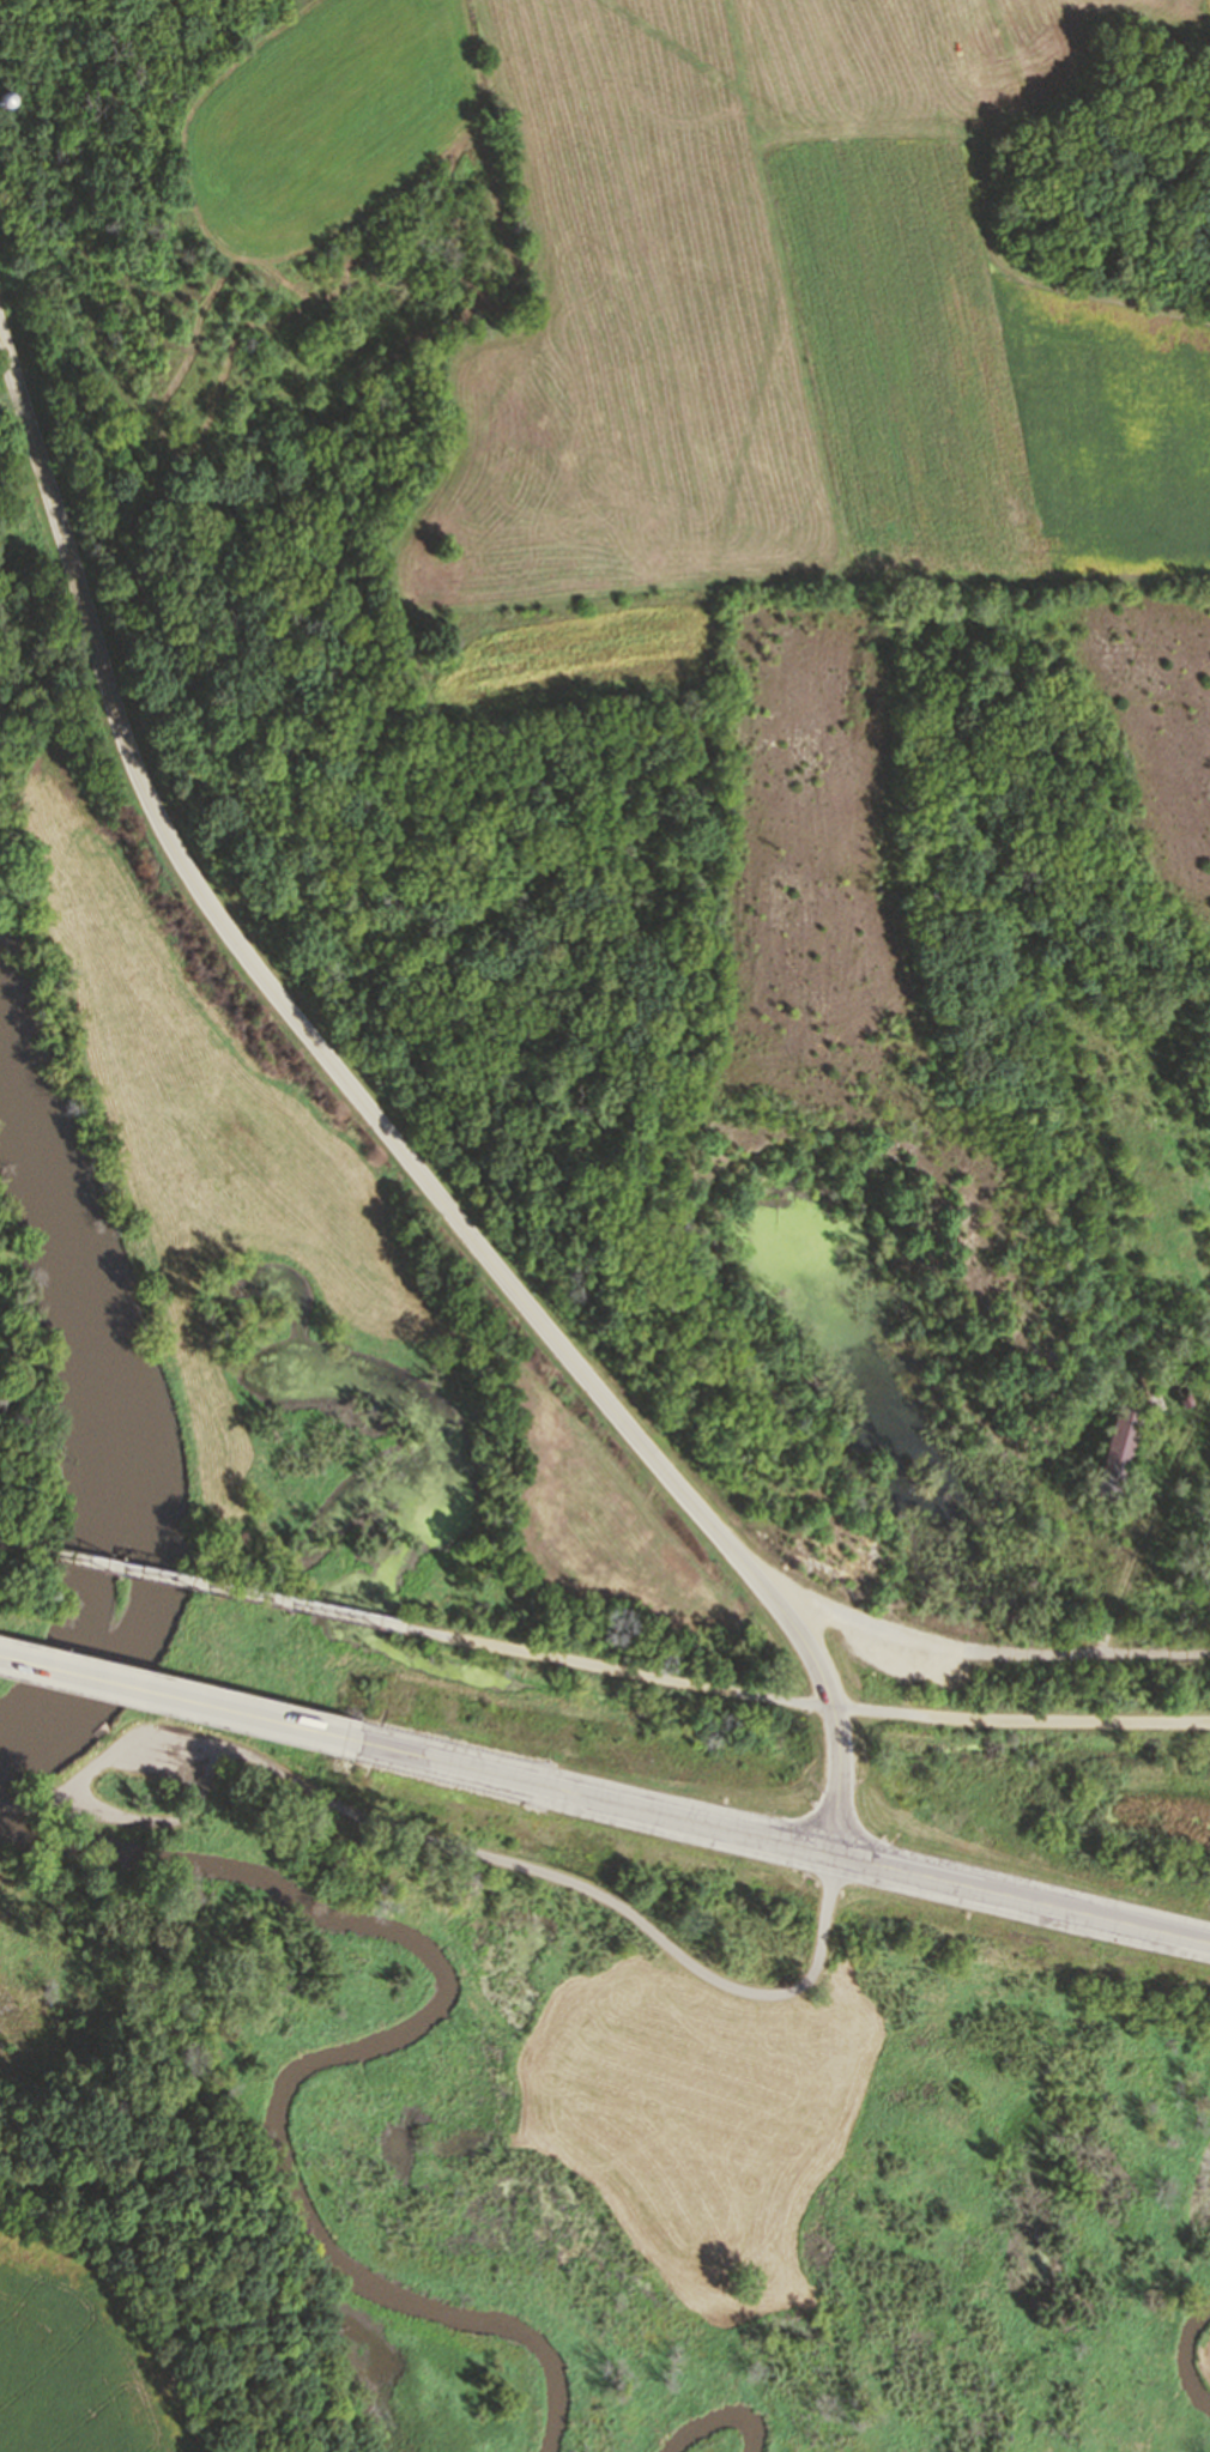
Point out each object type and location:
road: (382, 1126)
river: (102, 1355)
building: (1105, 1443)
road: (1149, 1521)
road: (18, 1546)
road: (223, 1588)
road: (981, 1653)
road: (179, 1699)
road: (806, 1706)
parking lot: (170, 1768)
road: (43, 1805)
road: (120, 1817)
road: (784, 1845)
road: (557, 1885)

